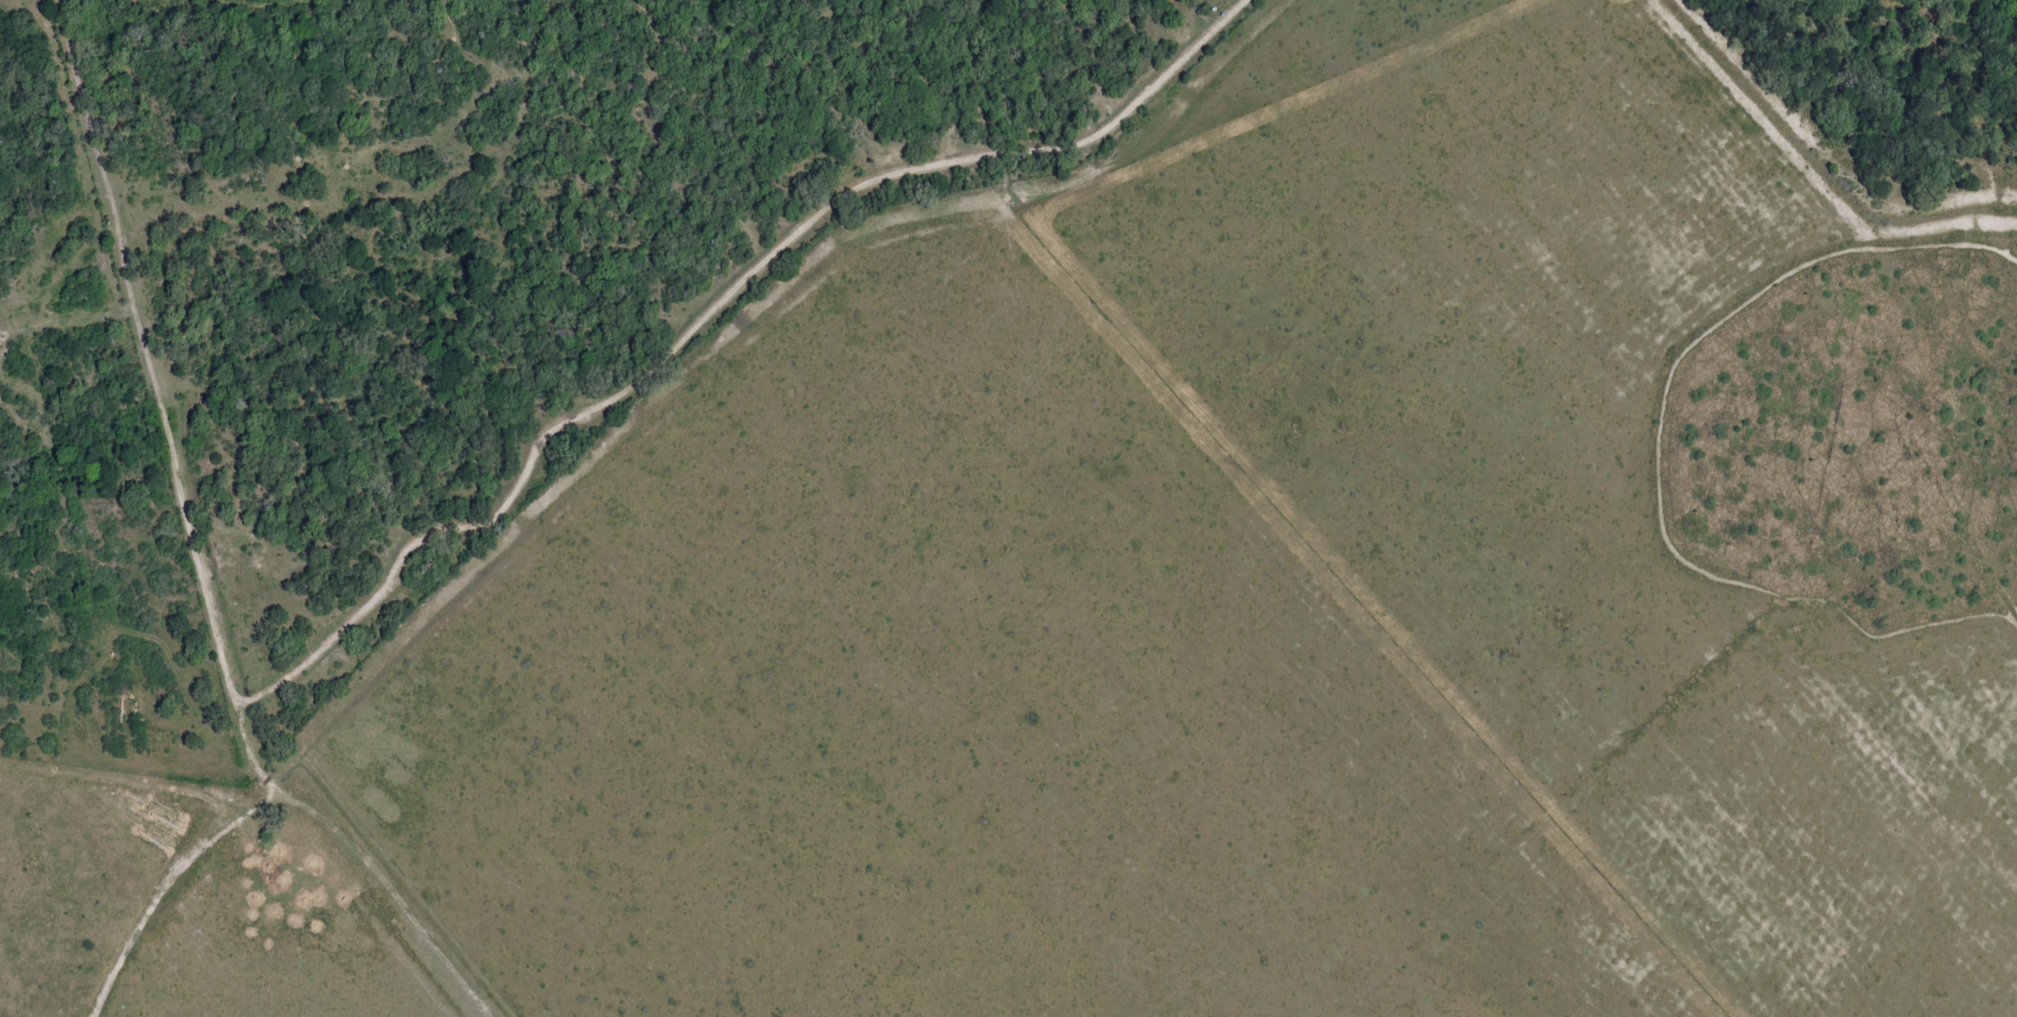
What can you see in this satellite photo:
road: (715, 309)
road: (159, 384)

